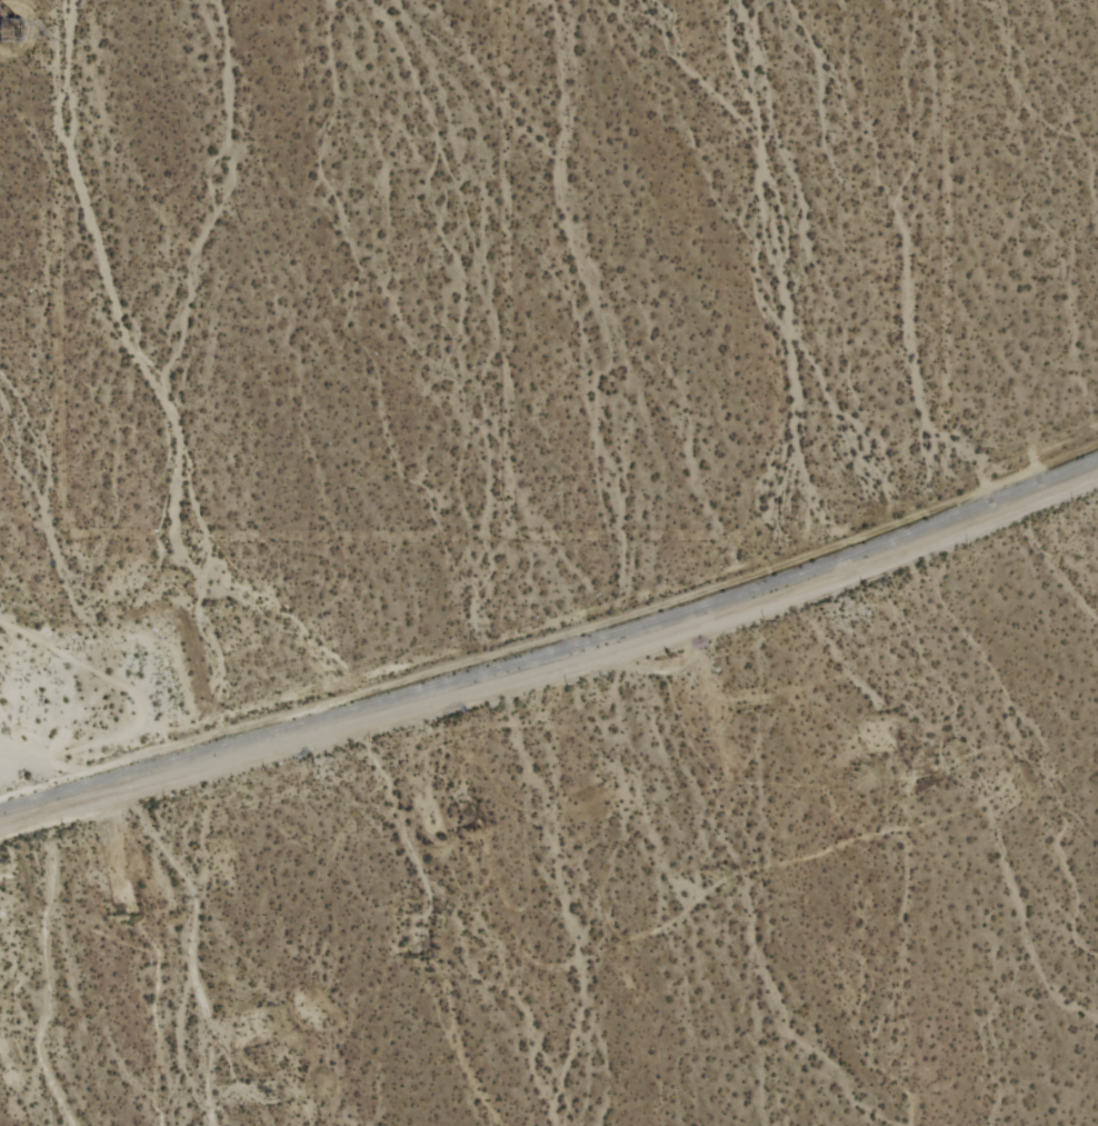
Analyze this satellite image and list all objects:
power tower: (20, 27)
railway: (555, 649)
road: (552, 666)

